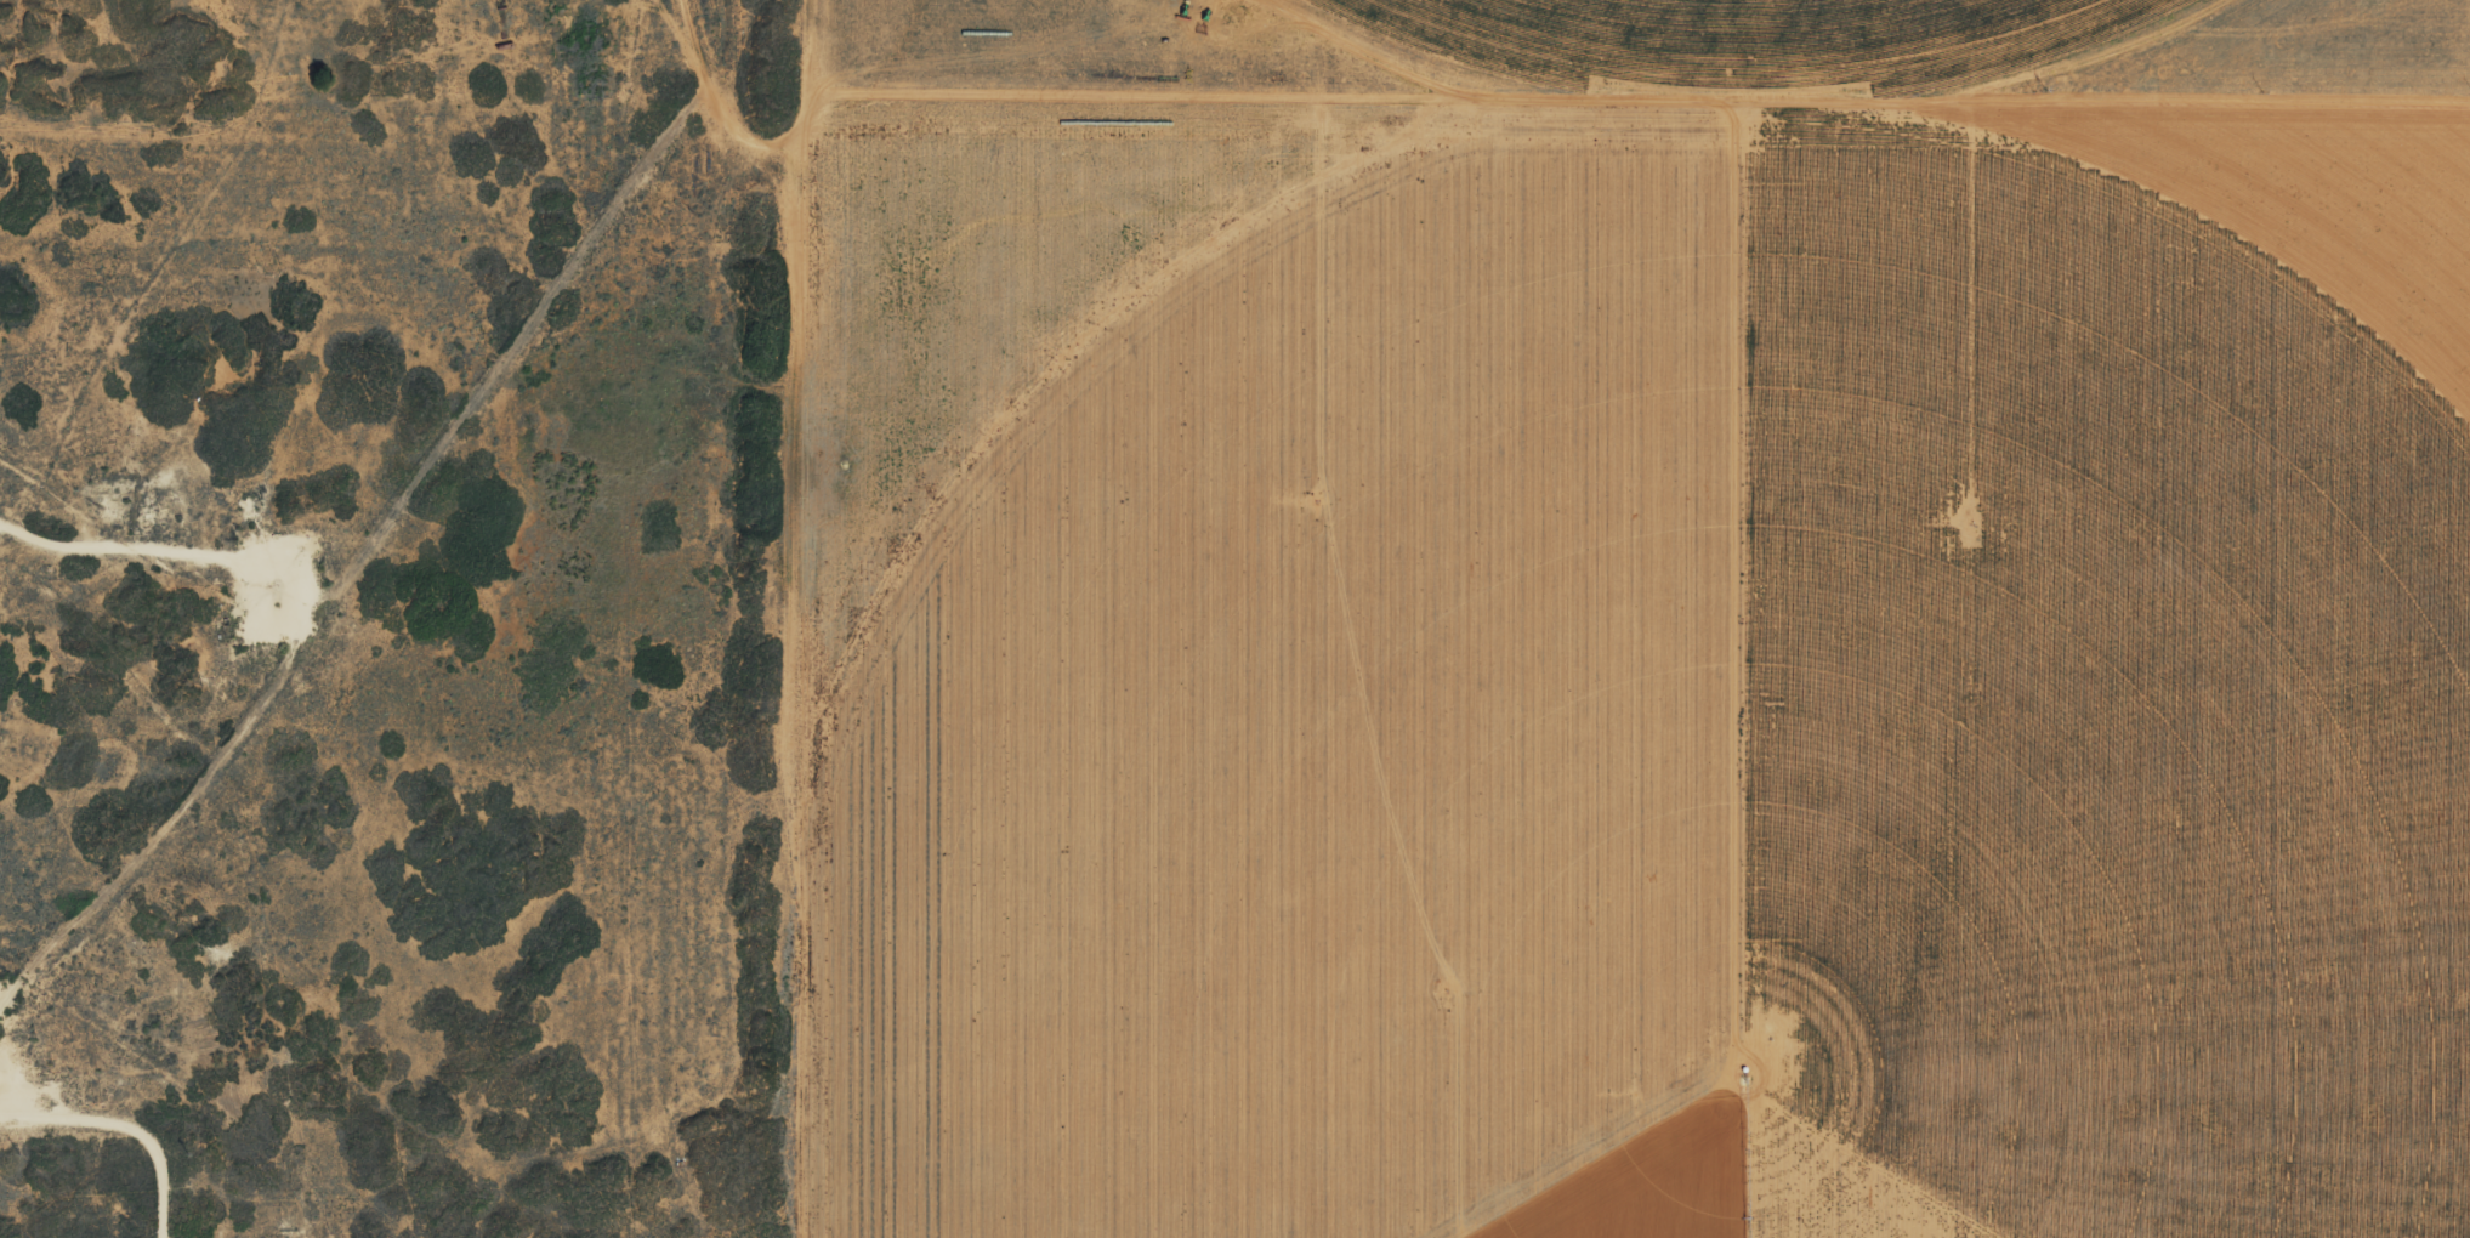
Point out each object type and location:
road: (398, 482)
road: (167, 502)
road: (135, 1111)

